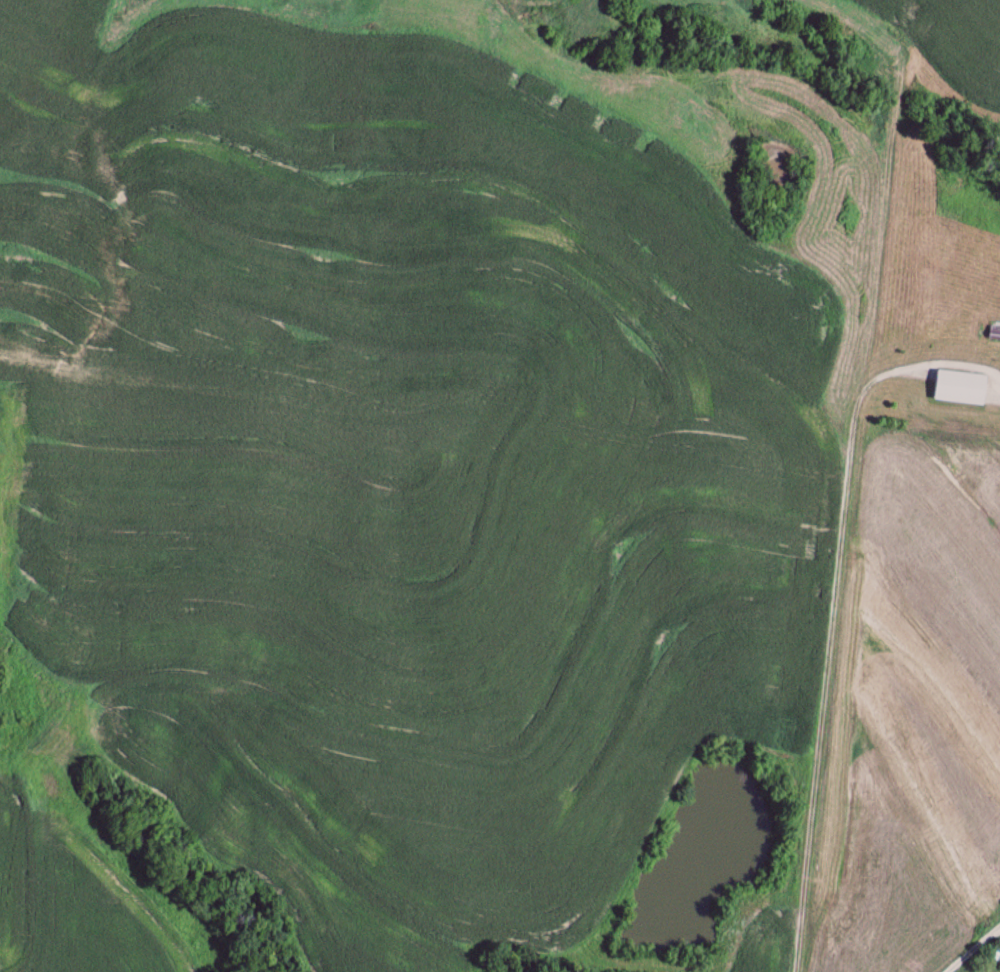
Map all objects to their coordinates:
building: (960, 388)
road: (826, 652)
road: (972, 948)

